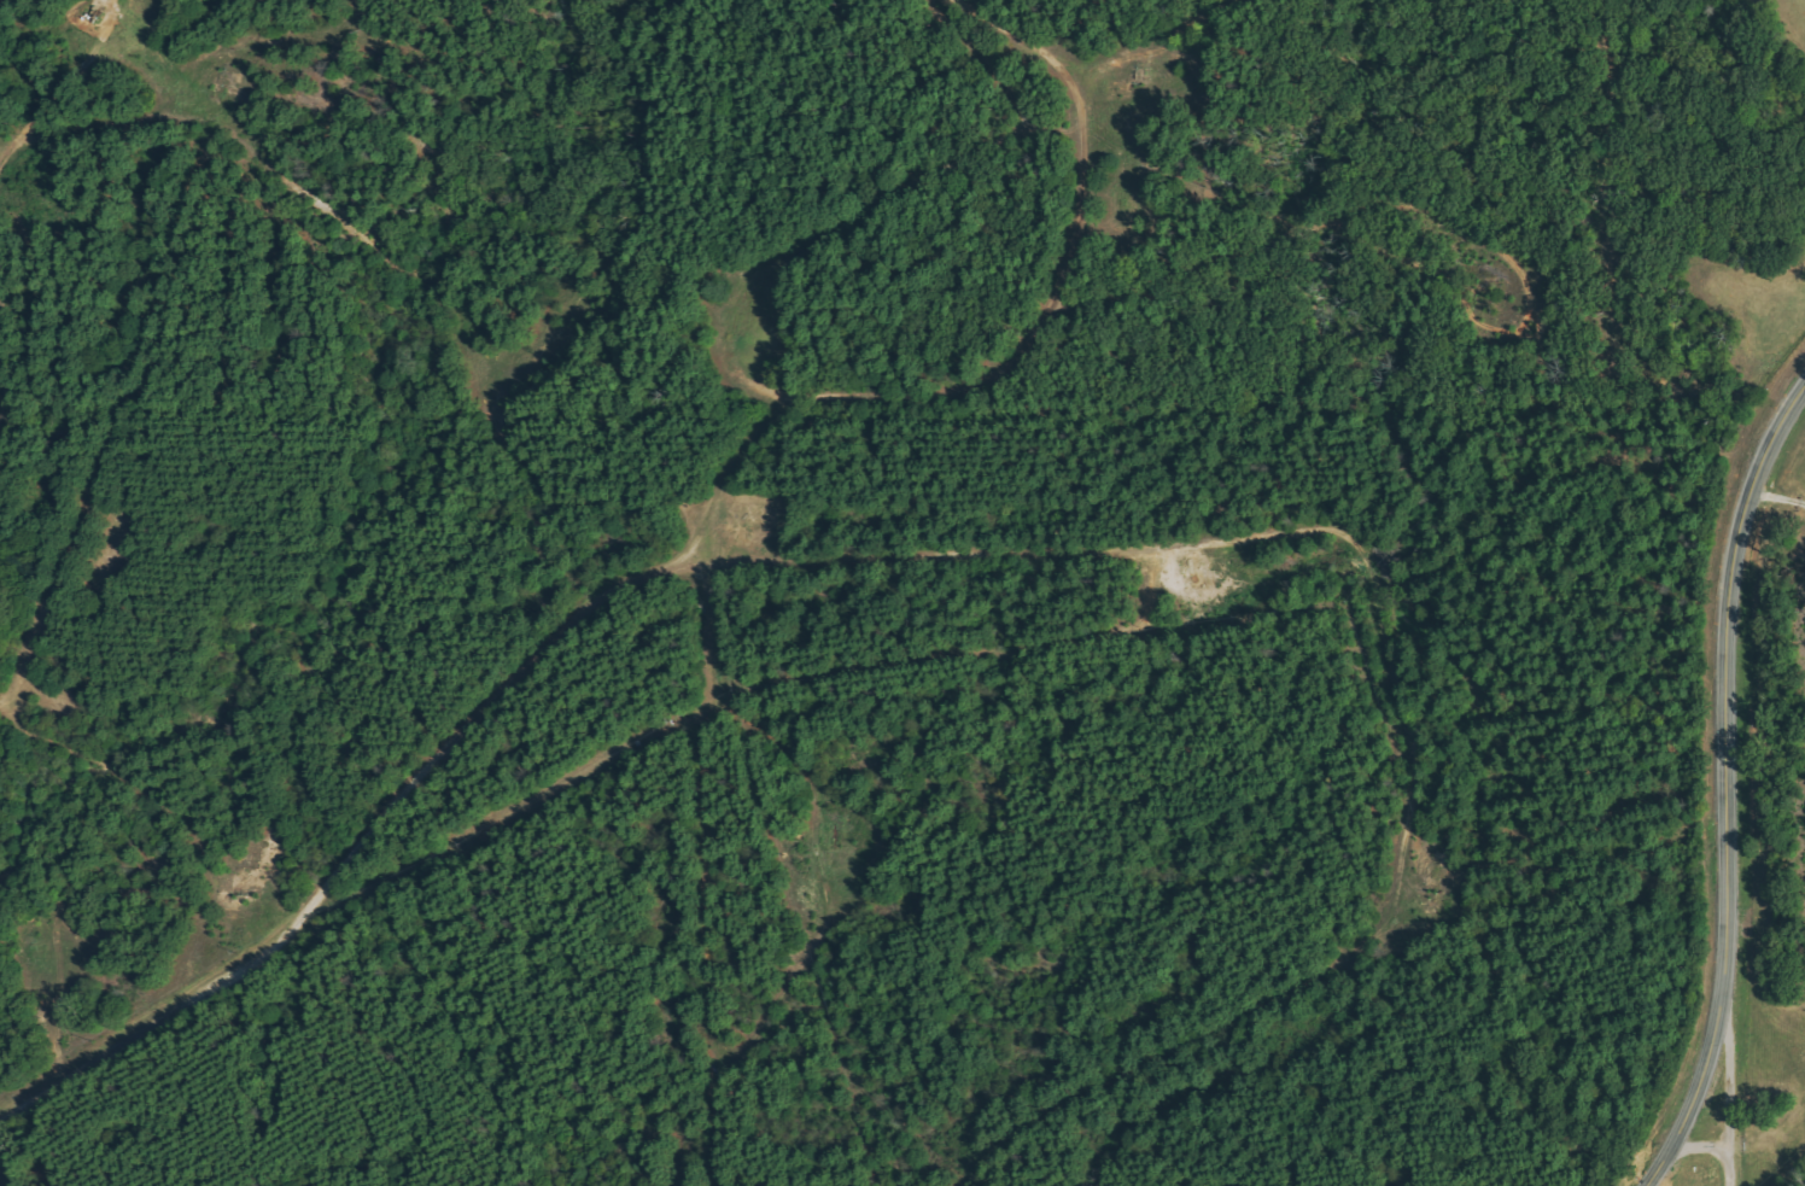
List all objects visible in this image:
road: (1009, 36)
road: (206, 123)
road: (945, 393)
road: (1776, 499)
road: (602, 595)
road: (1729, 788)
road: (707, 876)
road: (819, 876)
road: (1321, 971)
road: (1727, 1096)

